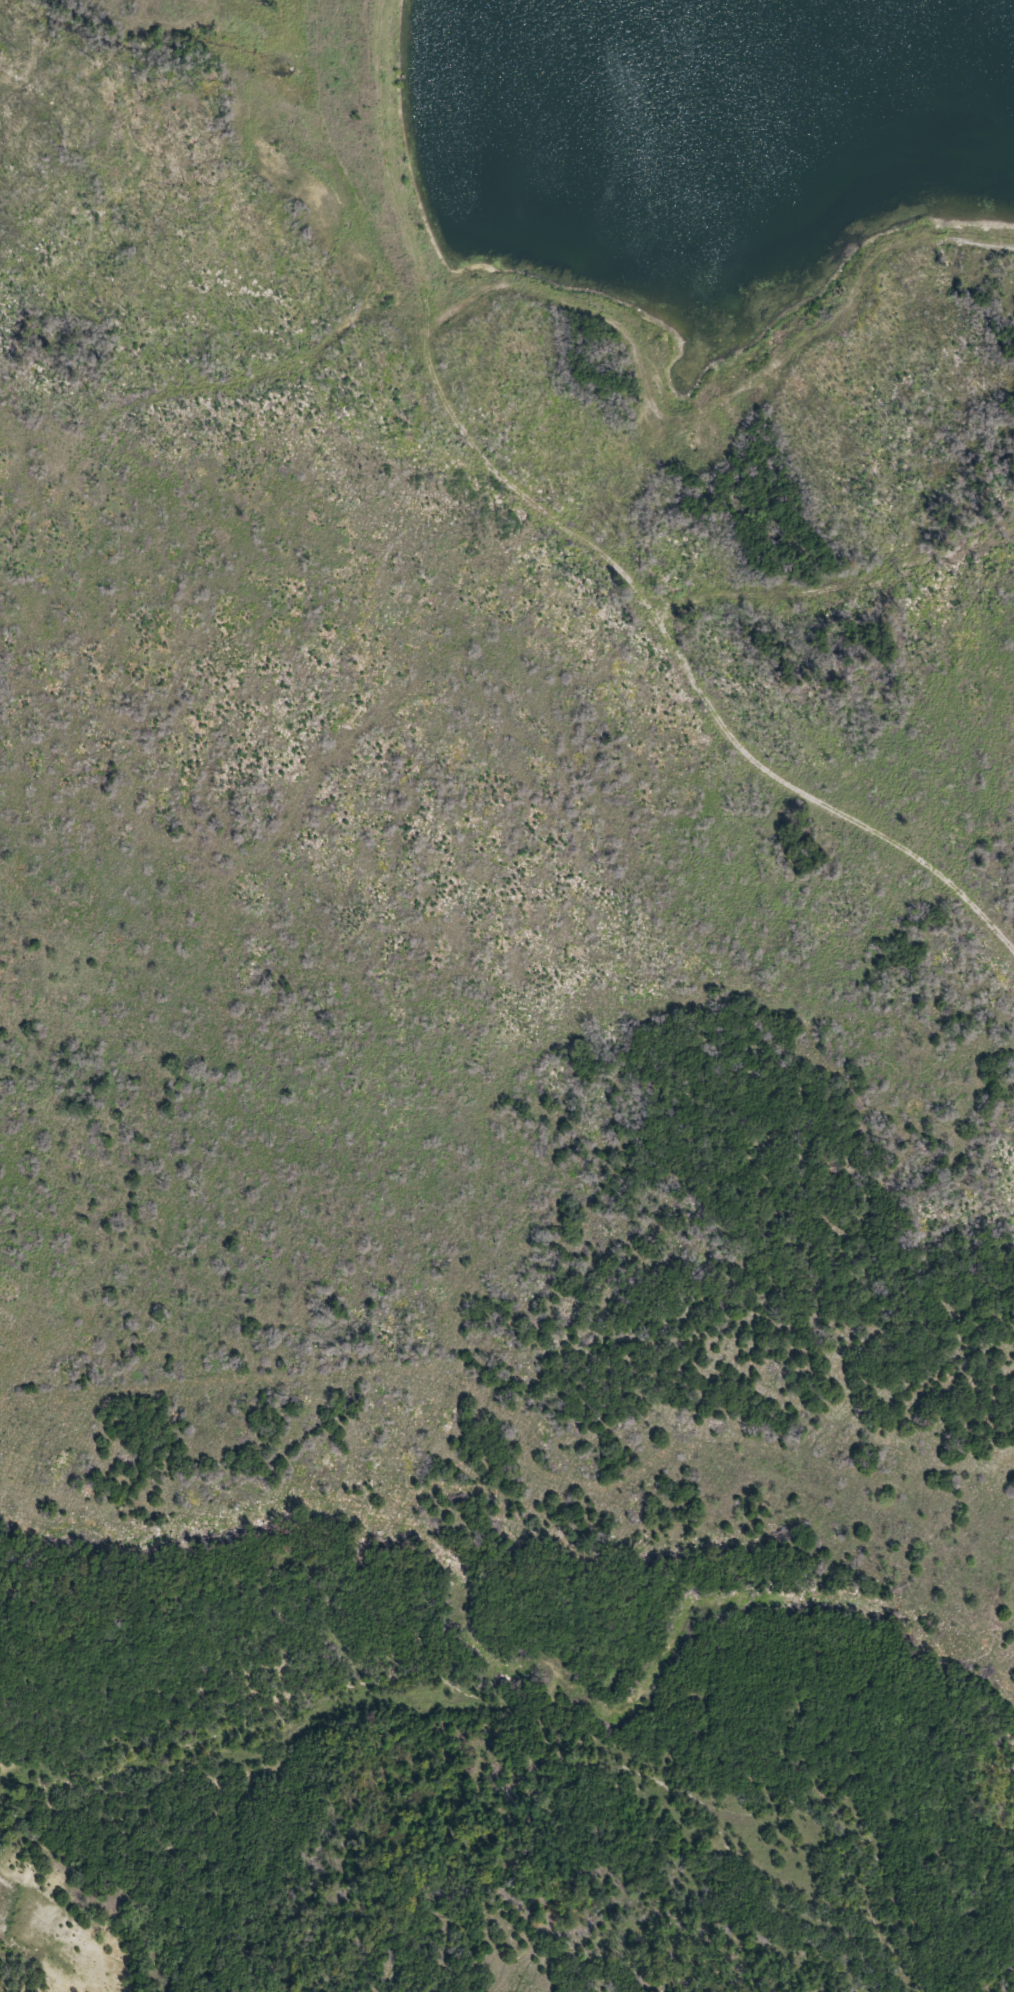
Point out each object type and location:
road: (305, 352)
road: (11, 828)

